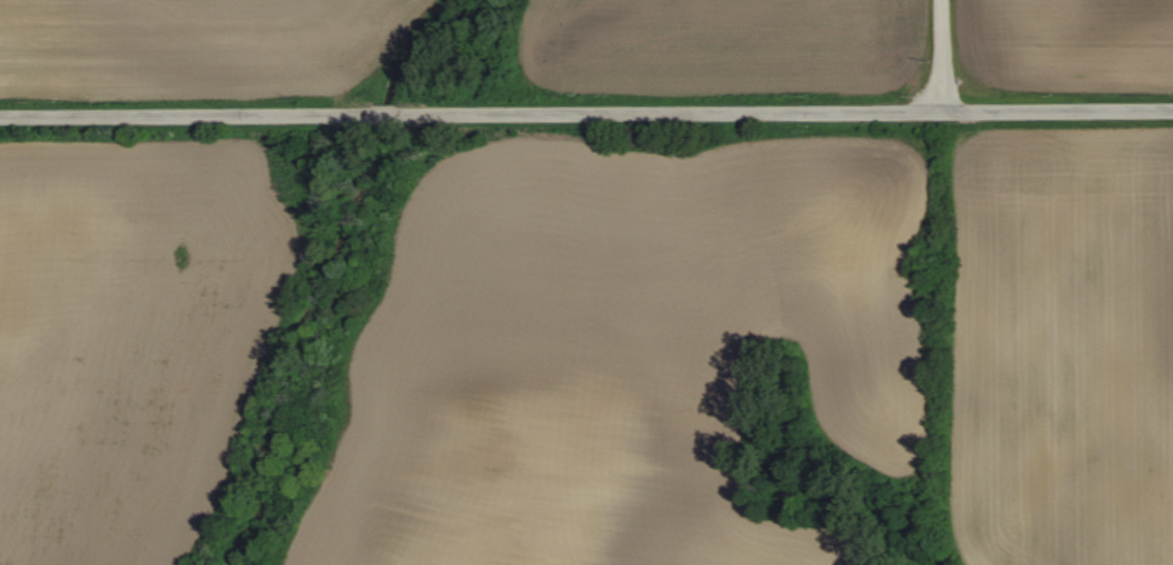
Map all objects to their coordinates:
road: (943, 53)
road: (586, 109)

